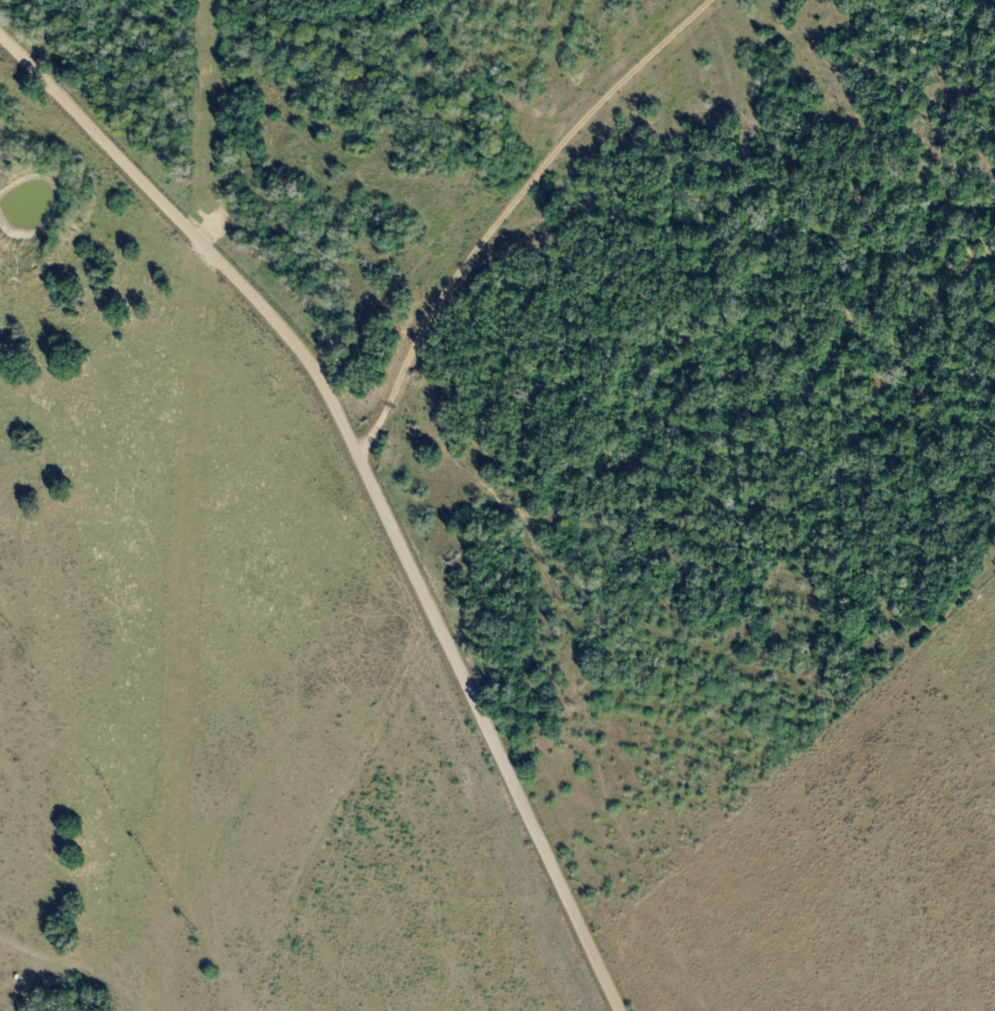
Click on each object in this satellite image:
road: (505, 206)
road: (373, 478)

